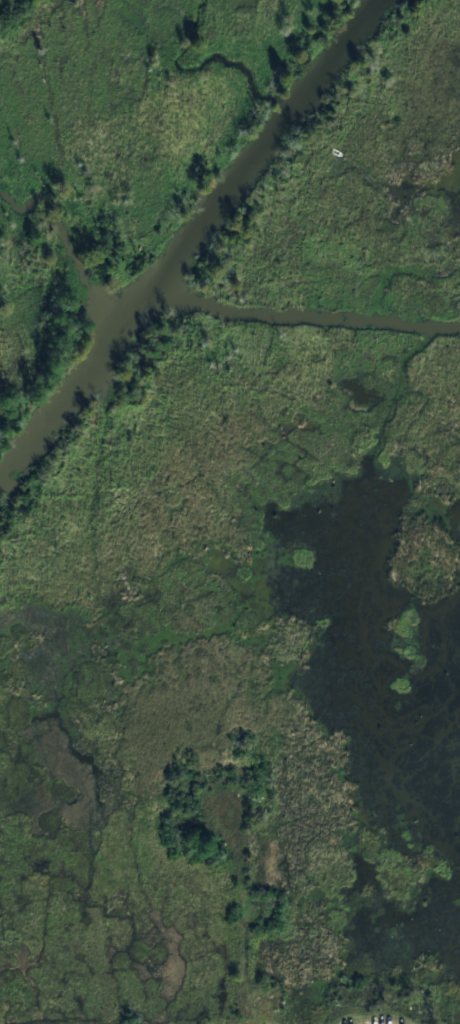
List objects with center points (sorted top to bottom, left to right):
road: (248, 907)

